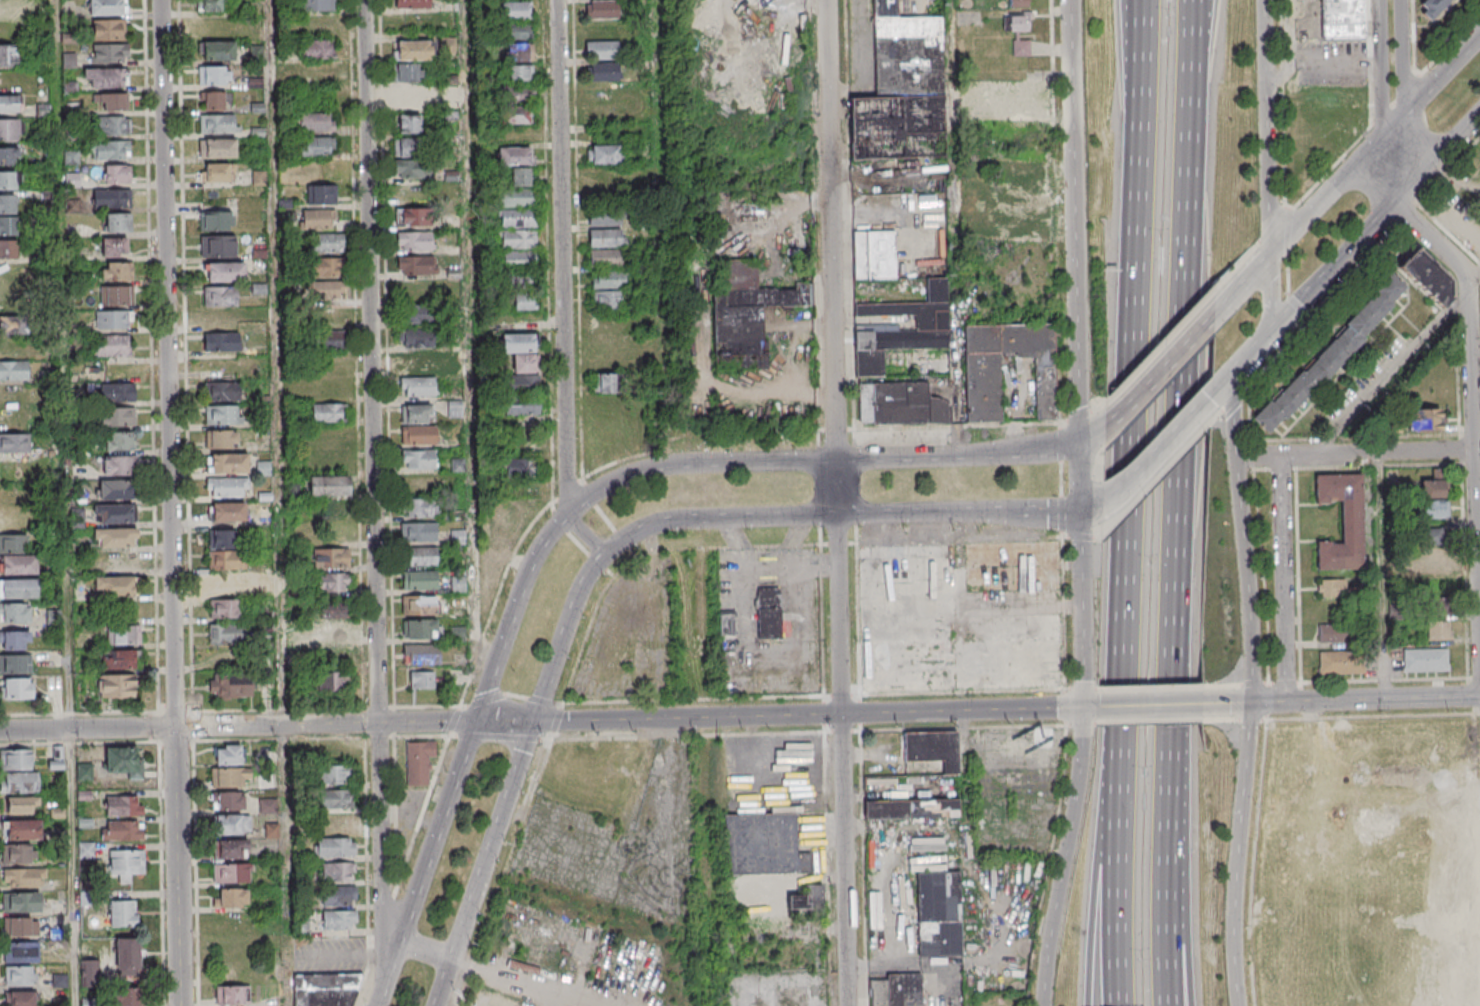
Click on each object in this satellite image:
building: (1017, 2)
building: (784, 3)
building: (412, 4)
building: (210, 6)
building: (316, 6)
building: (1431, 7)
building: (107, 8)
building: (5, 9)
building: (602, 9)
building: (515, 10)
road: (1195, 13)
road: (1144, 17)
building: (1341, 19)
building: (1018, 21)
building: (107, 30)
building: (517, 31)
road: (1292, 34)
road: (950, 44)
building: (1020, 47)
building: (601, 49)
building: (317, 50)
building: (413, 50)
building: (216, 51)
building: (518, 52)
building: (109, 54)
building: (10, 56)
road: (1320, 63)
road: (1380, 70)
building: (603, 71)
road: (1400, 71)
building: (520, 72)
building: (408, 73)
building: (214, 75)
building: (105, 78)
building: (902, 89)
road: (1433, 89)
building: (519, 92)
building: (410, 97)
building: (212, 99)
building: (110, 101)
building: (8, 104)
building: (514, 114)
building: (315, 122)
building: (216, 123)
building: (407, 124)
building: (112, 126)
building: (10, 129)
road: (1265, 129)
building: (315, 145)
building: (217, 148)
building: (406, 148)
building: (109, 150)
building: (603, 153)
building: (8, 155)
road: (60, 160)
road: (1439, 163)
building: (516, 164)
building: (412, 168)
building: (217, 172)
building: (116, 174)
road: (1388, 174)
building: (10, 179)
building: (320, 194)
building: (518, 197)
building: (111, 199)
road: (1328, 199)
building: (7, 203)
building: (412, 217)
building: (518, 218)
building: (604, 218)
building: (216, 220)
building: (317, 220)
building: (117, 223)
building: (8, 225)
building: (1469, 232)
building: (518, 239)
building: (413, 241)
building: (325, 244)
building: (217, 245)
building: (114, 247)
building: (606, 247)
building: (11, 248)
building: (874, 254)
road: (560, 258)
building: (519, 259)
building: (416, 265)
building: (325, 268)
building: (114, 271)
building: (225, 272)
building: (1427, 275)
building: (519, 279)
building: (607, 279)
road: (1243, 288)
building: (326, 290)
building: (113, 295)
building: (220, 295)
road: (1270, 295)
road: (1304, 299)
building: (606, 300)
building: (523, 302)
building: (746, 314)
building: (420, 315)
building: (220, 317)
building: (113, 319)
building: (13, 325)
building: (899, 328)
road: (468, 333)
building: (415, 338)
building: (330, 340)
building: (221, 341)
building: (113, 345)
road: (1076, 353)
building: (1331, 355)
building: (521, 361)
building: (415, 362)
road: (166, 363)
road: (1471, 364)
building: (13, 370)
road: (1162, 373)
road: (1390, 373)
building: (606, 383)
road: (1137, 385)
building: (417, 386)
building: (982, 387)
building: (223, 391)
building: (117, 392)
building: (901, 405)
building: (521, 406)
building: (454, 408)
building: (328, 413)
building: (222, 415)
building: (117, 417)
road: (1232, 417)
building: (1423, 420)
road: (1092, 433)
building: (221, 439)
building: (118, 442)
building: (14, 443)
road: (1163, 447)
road: (1355, 453)
building: (418, 459)
road: (701, 461)
building: (227, 463)
building: (117, 465)
building: (520, 469)
building: (328, 485)
building: (228, 487)
building: (1432, 488)
building: (115, 490)
building: (292, 491)
road: (372, 500)
road: (279, 502)
road: (834, 503)
building: (419, 507)
building: (1432, 509)
building: (227, 511)
building: (114, 514)
road: (1179, 515)
road: (761, 517)
building: (1342, 521)
building: (502, 524)
building: (418, 531)
road: (583, 535)
building: (114, 538)
building: (221, 538)
building: (15, 555)
building: (420, 556)
building: (486, 556)
building: (1431, 556)
building: (331, 557)
building: (225, 560)
road: (1282, 579)
building: (420, 580)
road: (1246, 580)
building: (332, 582)
building: (225, 584)
building: (458, 584)
building: (113, 587)
building: (1331, 587)
building: (18, 588)
building: (1436, 604)
building: (418, 605)
building: (226, 608)
building: (330, 610)
building: (875, 611)
building: (14, 612)
building: (768, 612)
building: (726, 624)
building: (1043, 626)
building: (420, 628)
building: (1436, 630)
building: (330, 632)
building: (122, 634)
building: (226, 634)
building: (457, 634)
building: (1332, 634)
building: (14, 639)
building: (421, 654)
road: (68, 655)
building: (118, 659)
building: (1425, 660)
building: (14, 663)
building: (1341, 663)
building: (422, 679)
building: (332, 681)
building: (116, 686)
building: (230, 686)
building: (16, 688)
road: (510, 694)
road: (1364, 699)
road: (1226, 704)
road: (1143, 705)
road: (426, 706)
road: (807, 715)
road: (454, 719)
road: (556, 720)
road: (503, 721)
traffic signals: (532, 721)
traffic signals: (474, 722)
road: (323, 724)
road: (86, 729)
road: (687, 734)
road: (420, 735)
road: (499, 737)
road: (278, 739)
building: (932, 748)
building: (228, 755)
building: (56, 758)
building: (15, 759)
building: (120, 760)
building: (419, 762)
building: (337, 775)
building: (228, 777)
building: (18, 783)
building: (337, 799)
building: (228, 801)
building: (21, 805)
building: (123, 805)
building: (268, 806)
building: (911, 809)
road: (421, 814)
building: (336, 824)
building: (231, 825)
building: (22, 829)
building: (121, 830)
building: (271, 830)
road: (437, 832)
road: (491, 840)
building: (761, 843)
building: (334, 848)
building: (230, 850)
building: (18, 853)
road: (1235, 854)
road: (1062, 856)
building: (804, 862)
building: (126, 863)
road: (175, 866)
road: (71, 868)
road: (1098, 870)
road: (504, 871)
road: (1119, 871)
road: (366, 872)
road: (195, 873)
building: (338, 873)
building: (230, 874)
building: (23, 877)
building: (813, 893)
building: (338, 896)
building: (231, 898)
building: (796, 900)
building: (20, 901)
building: (938, 913)
building: (122, 914)
building: (339, 921)
road: (385, 921)
building: (20, 926)
road: (1187, 935)
building: (21, 952)
building: (127, 956)
road: (389, 974)
building: (18, 976)
road: (442, 983)
building: (325, 989)
building: (905, 989)
building: (230, 995)
building: (128, 996)
building: (20, 999)

